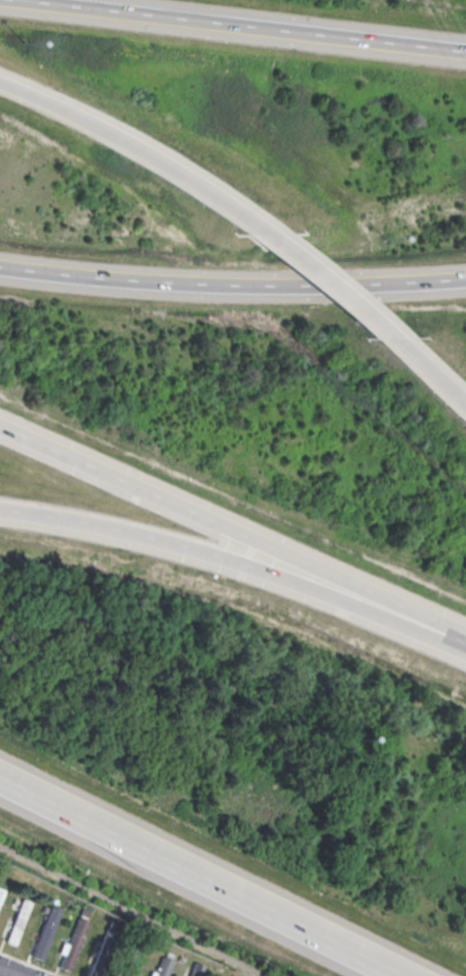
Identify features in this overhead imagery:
road: (248, 24)
road: (139, 147)
road: (332, 282)
road: (232, 283)
road: (429, 372)
road: (233, 528)
road: (236, 561)
road: (199, 875)
building: (0, 891)
road: (129, 911)
building: (17, 921)
building: (44, 932)
building: (130, 961)
building: (160, 967)
building: (195, 969)
road: (9, 972)

